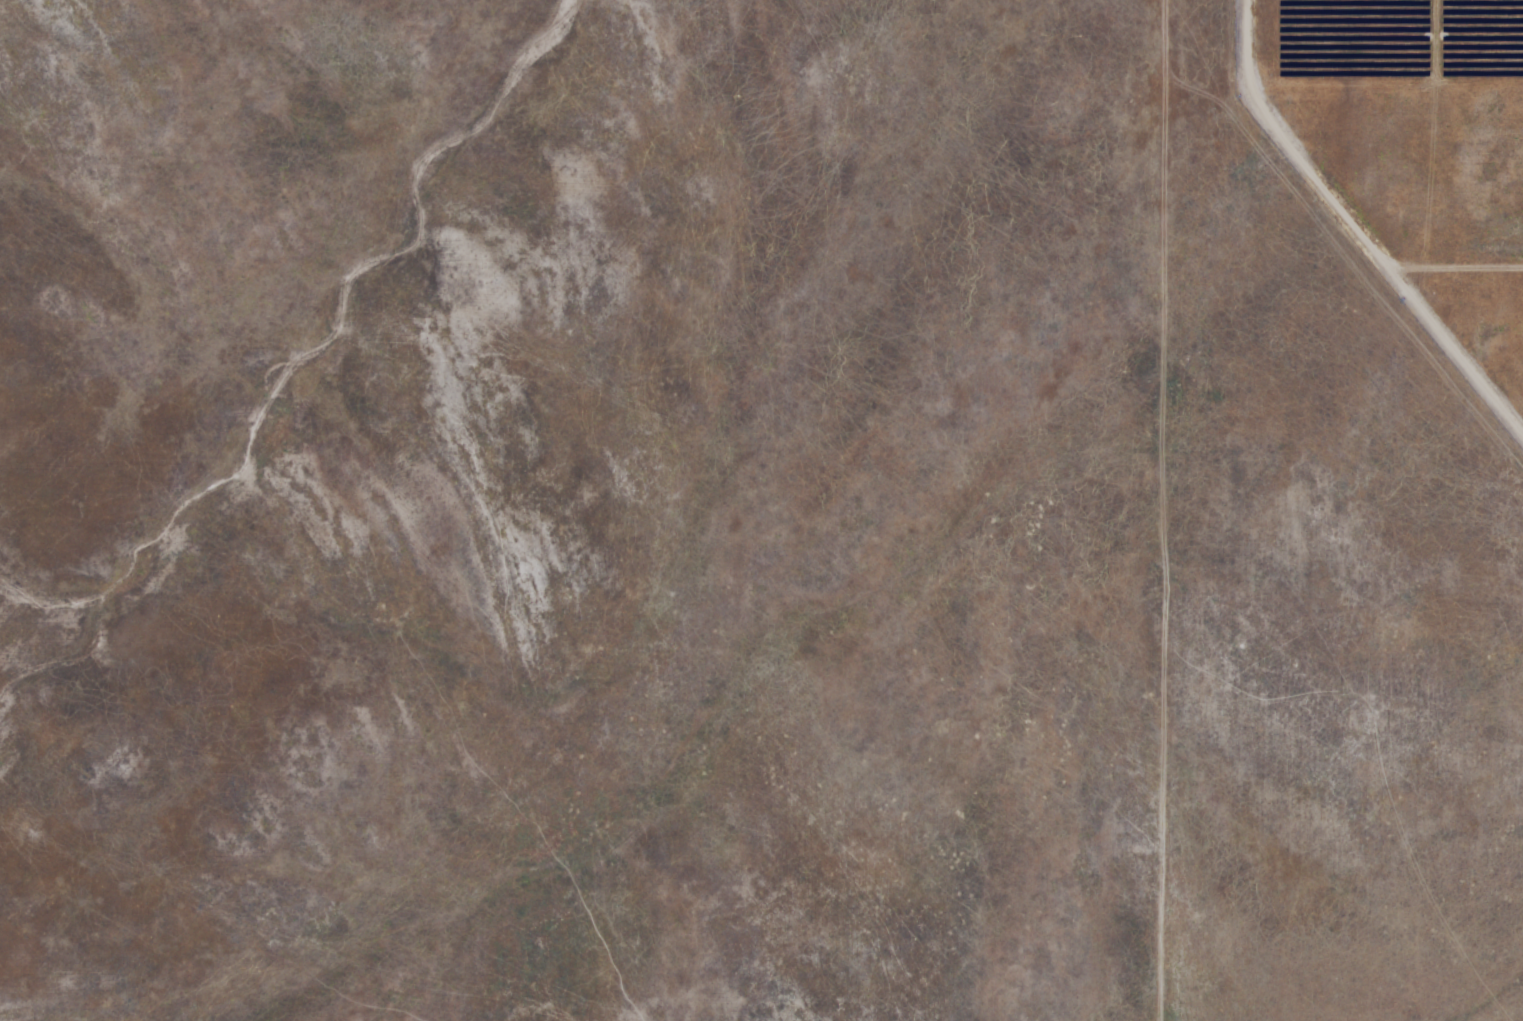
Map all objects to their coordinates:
solar farm: (685, 478)

